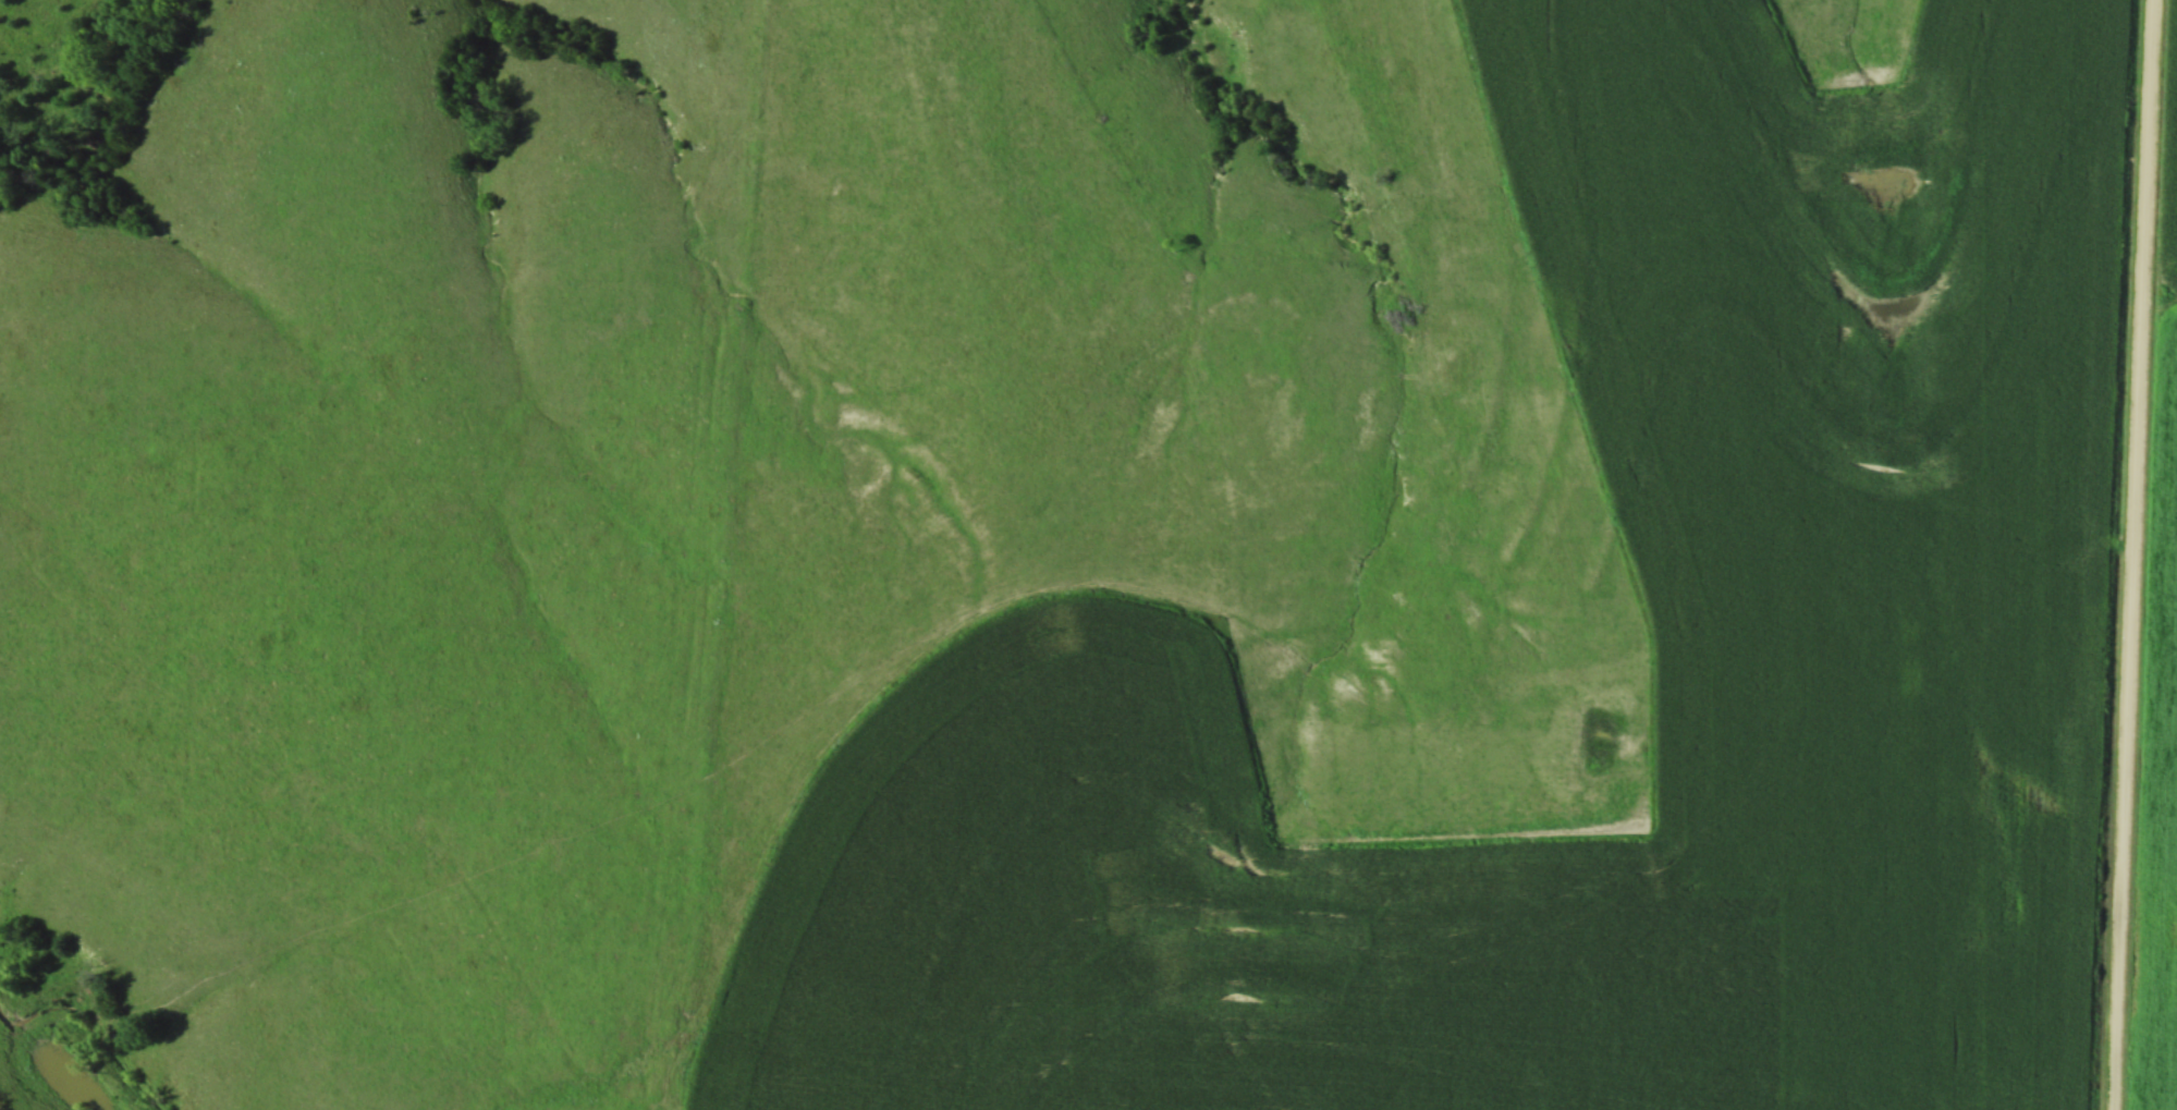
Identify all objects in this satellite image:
road: (2112, 554)

